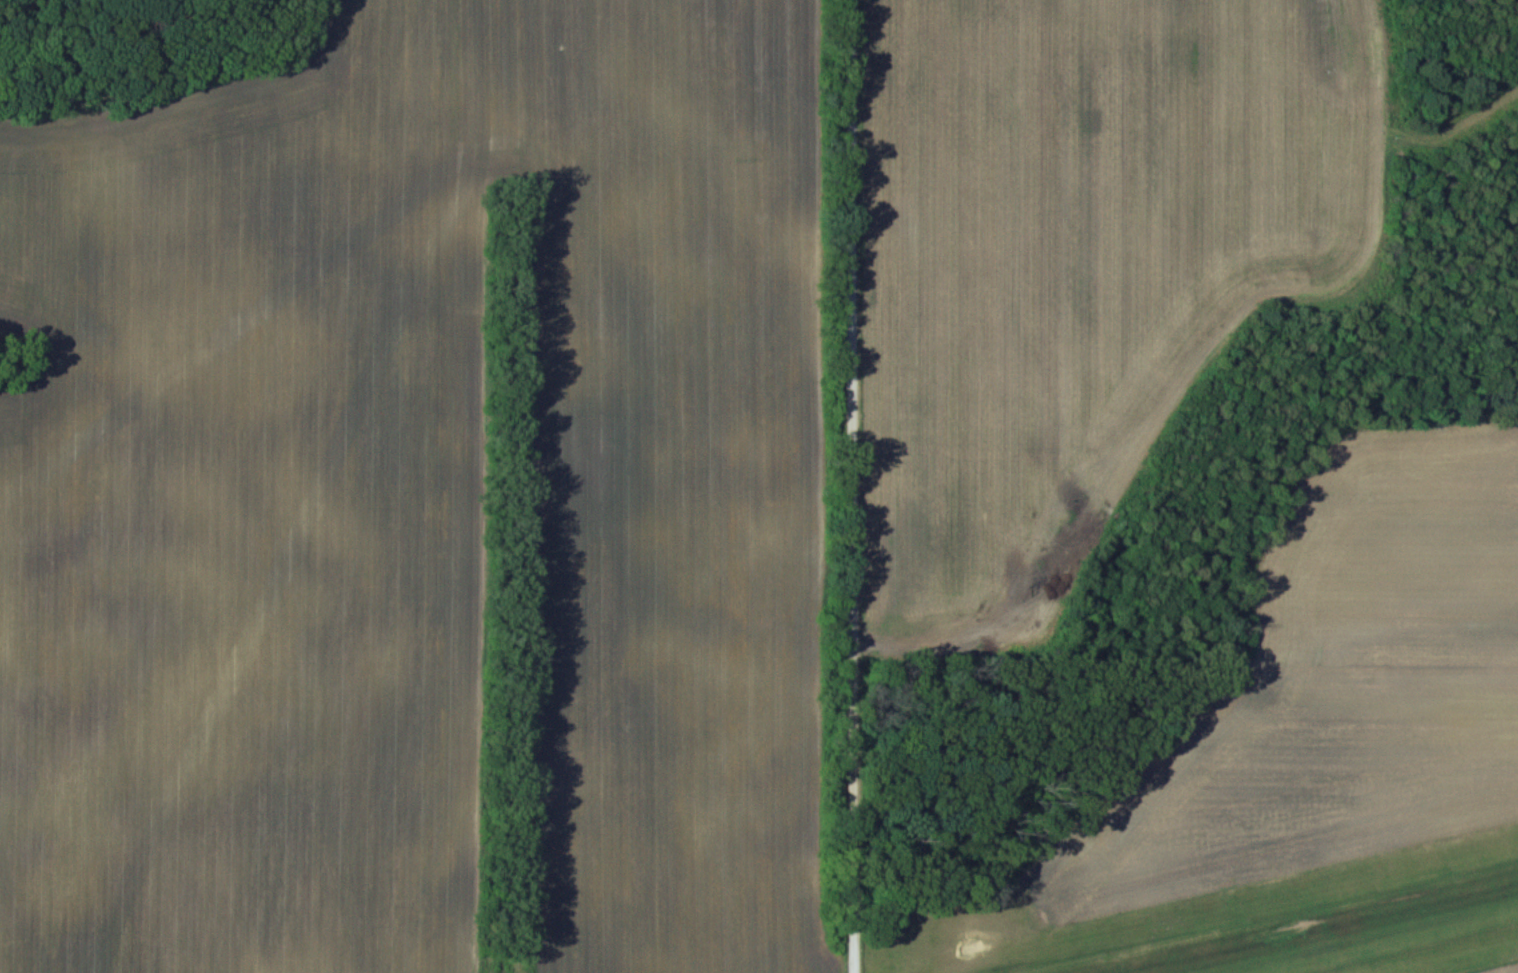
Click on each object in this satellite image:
road: (850, 486)
airport runway: (1335, 930)

